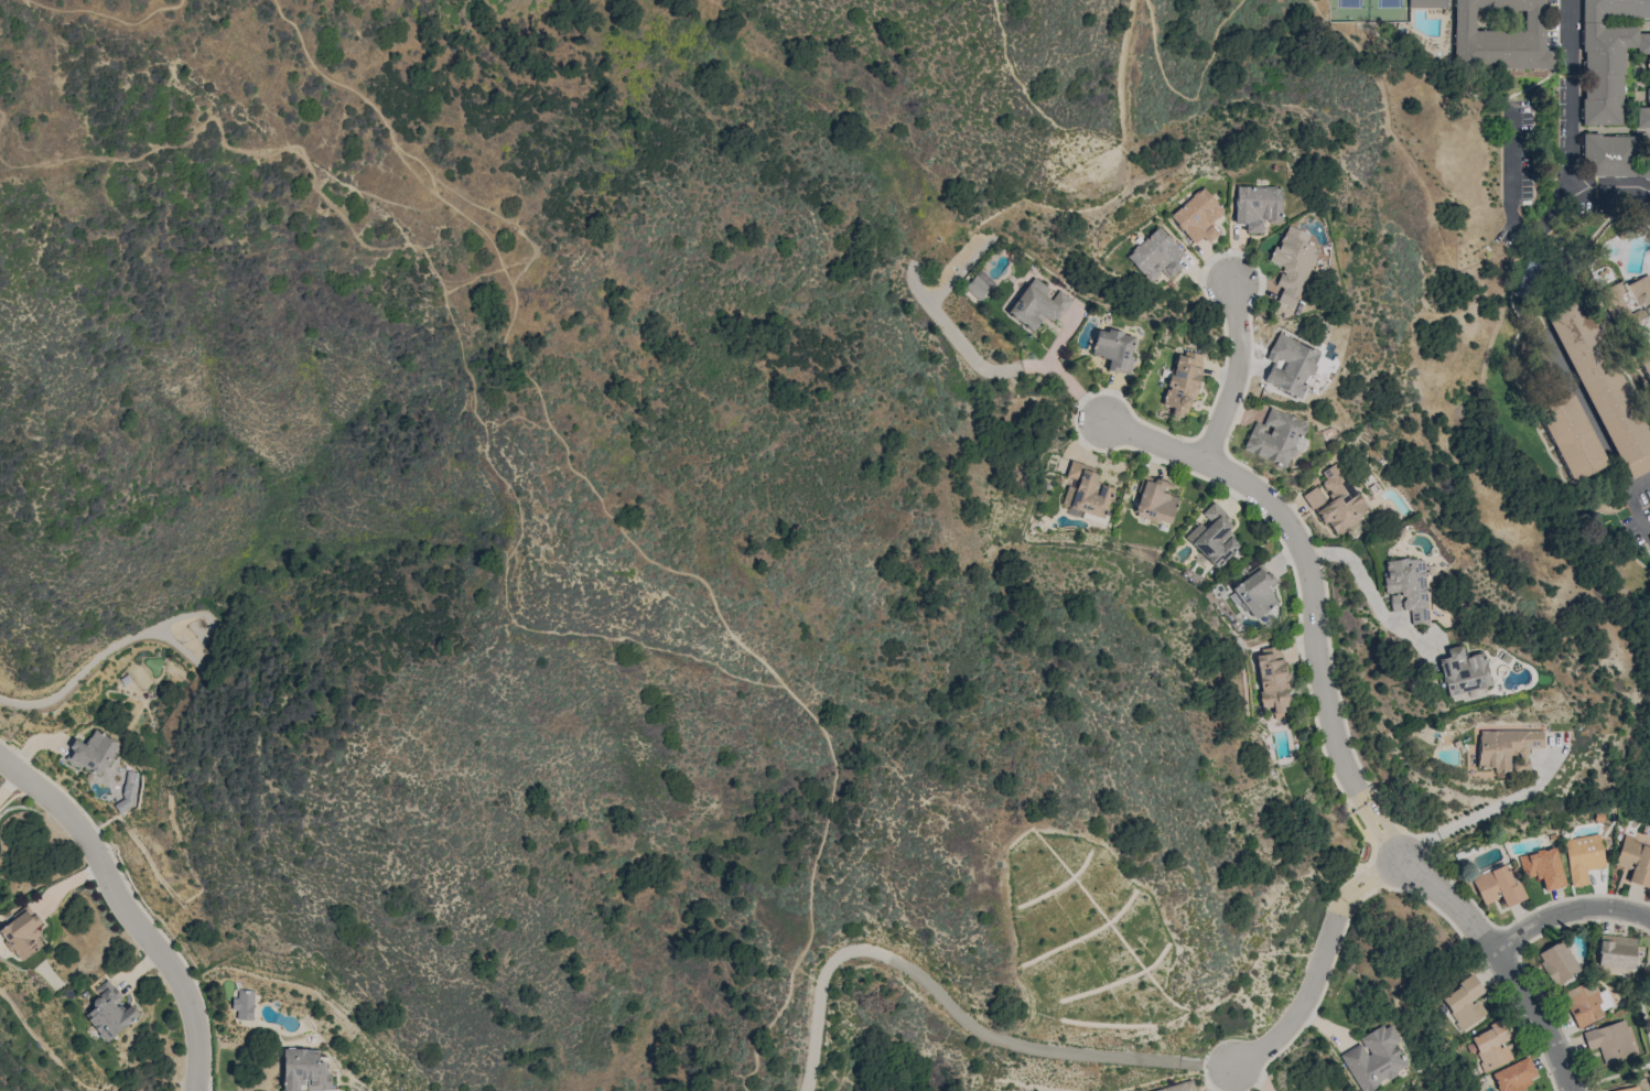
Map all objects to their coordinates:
building: (1426, 3)
road: (104, 15)
building: (1499, 34)
building: (1611, 56)
road: (1157, 63)
road: (1124, 69)
road: (1201, 89)
road: (1034, 105)
road: (1570, 128)
building: (1613, 162)
building: (1255, 206)
road: (1509, 208)
building: (1197, 216)
building: (1154, 255)
building: (1292, 266)
building: (1528, 280)
building: (975, 288)
building: (1037, 305)
building: (1641, 313)
building: (1113, 349)
road: (963, 350)
building: (1288, 365)
road: (1239, 375)
road: (1068, 381)
building: (1182, 384)
building: (1603, 389)
building: (1571, 435)
building: (1275, 438)
road: (1638, 486)
building: (1085, 490)
building: (1312, 497)
building: (1339, 499)
building: (1154, 500)
road: (1636, 515)
road: (625, 533)
building: (1212, 536)
building: (1649, 538)
road: (1307, 558)
building: (1406, 587)
road: (1368, 590)
building: (1254, 591)
building: (1462, 671)
building: (1271, 678)
building: (1501, 749)
building: (91, 753)
road: (1477, 813)
building: (1583, 856)
building: (1635, 861)
building: (1543, 867)
building: (1498, 885)
road: (128, 908)
road: (1568, 911)
building: (21, 933)
road: (1484, 937)
building: (1616, 951)
building: (1557, 962)
road: (1313, 986)
road: (938, 995)
building: (1465, 1002)
building: (1587, 1003)
building: (244, 1004)
building: (108, 1012)
building: (1611, 1041)
building: (1492, 1045)
building: (1376, 1059)
building: (304, 1070)
building: (1513, 1076)
building: (1178, 1088)
building: (1627, 1089)

